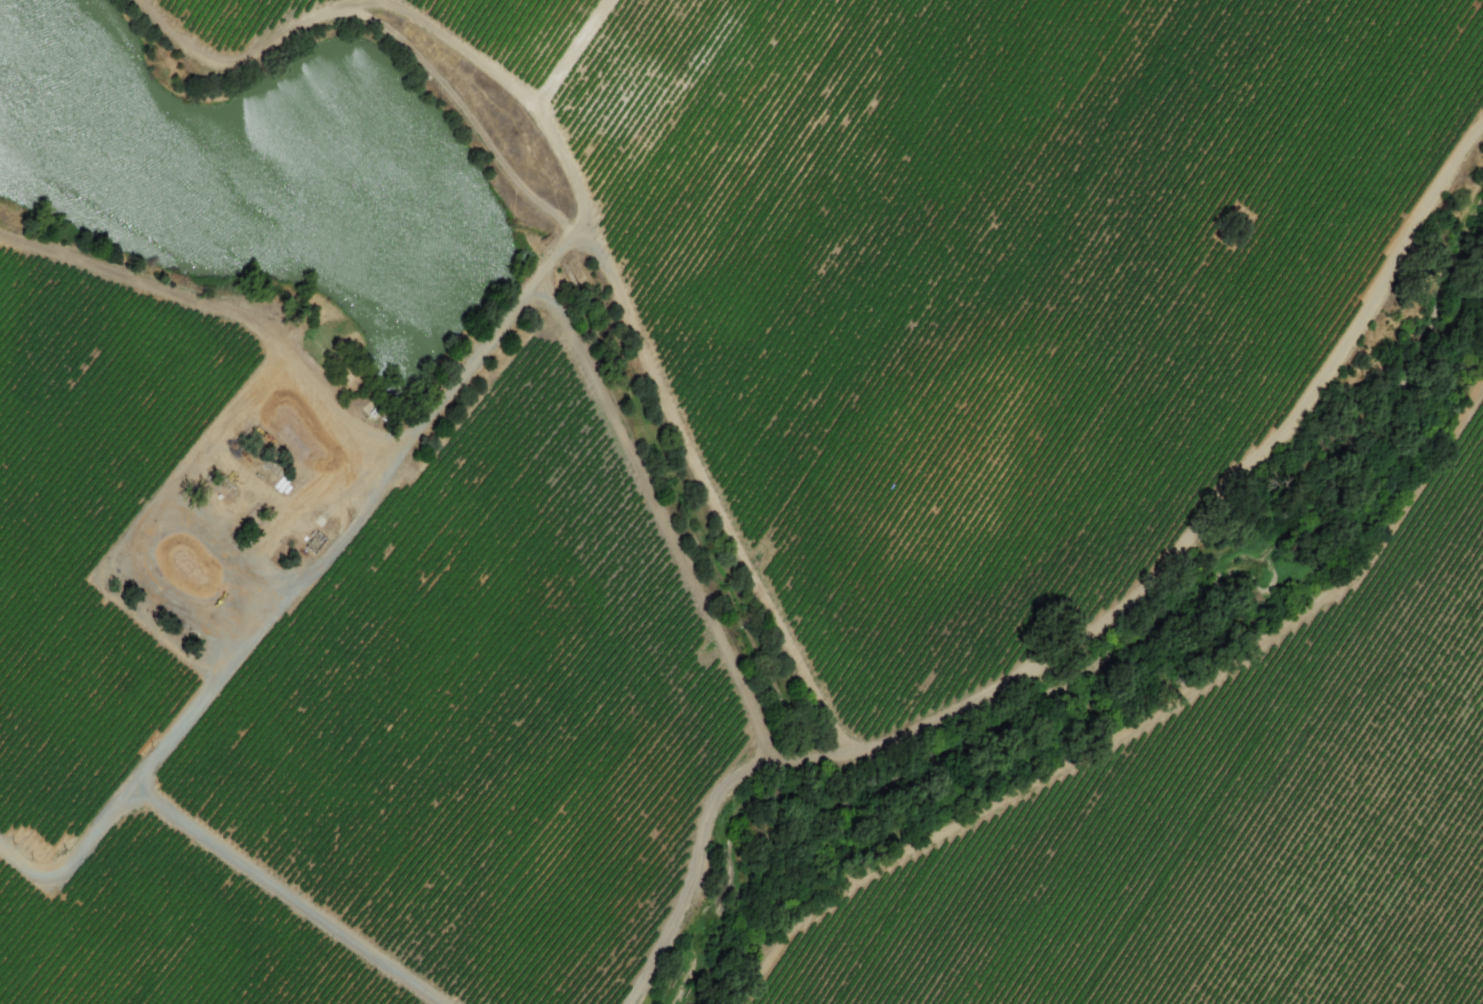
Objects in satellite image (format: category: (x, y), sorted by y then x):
crop: (261, 262)

